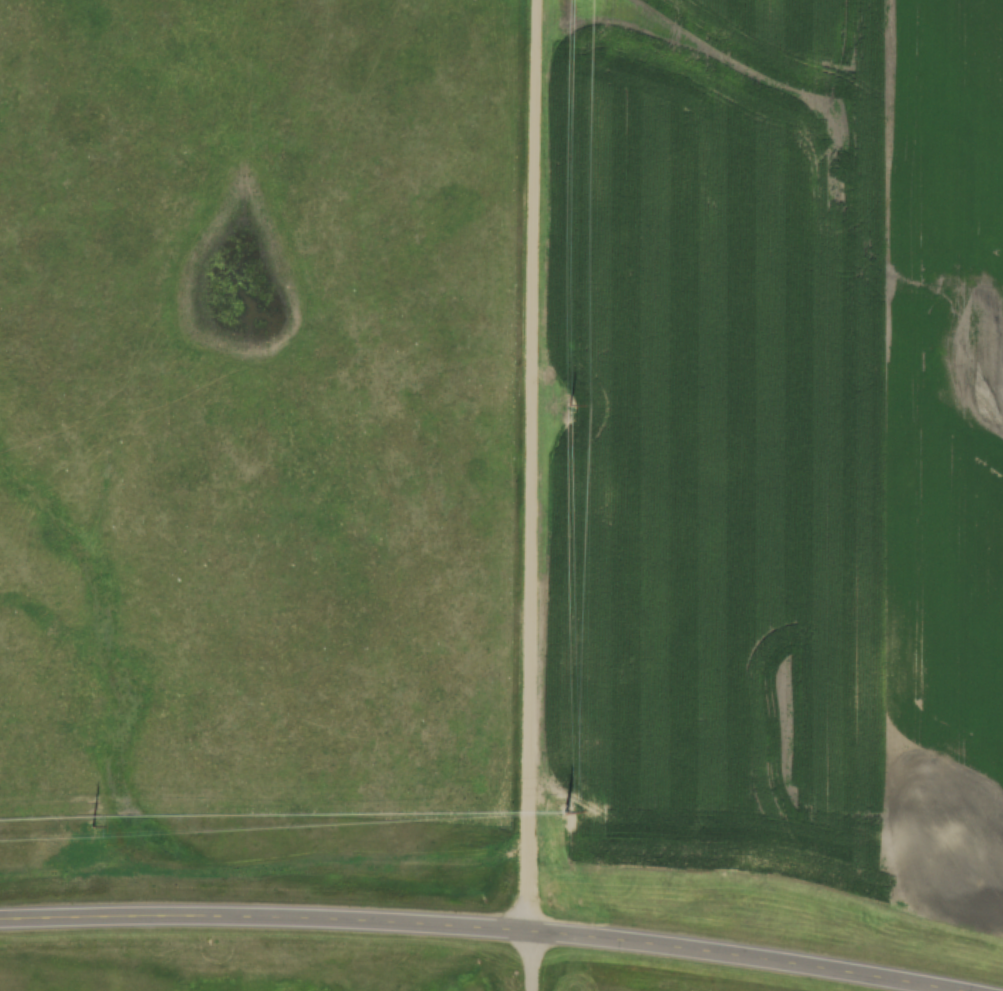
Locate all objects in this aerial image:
power tower: (568, 404)
road: (534, 495)
power tower: (565, 810)
power tower: (92, 824)
road: (464, 931)

